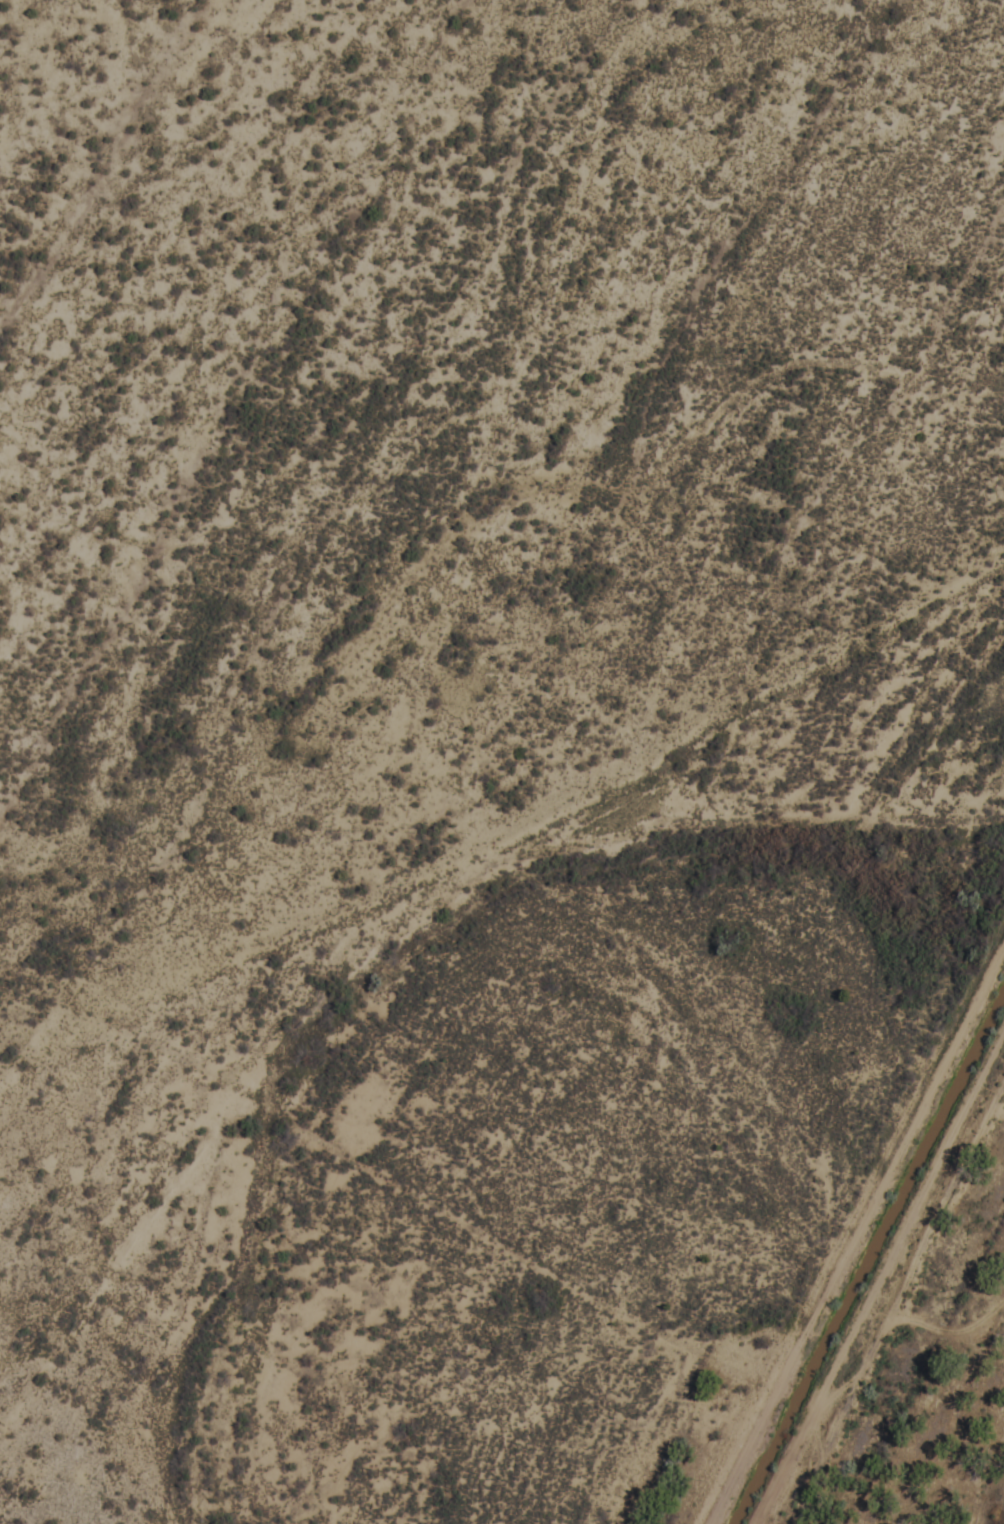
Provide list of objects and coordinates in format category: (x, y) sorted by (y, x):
road: (364, 1198)

